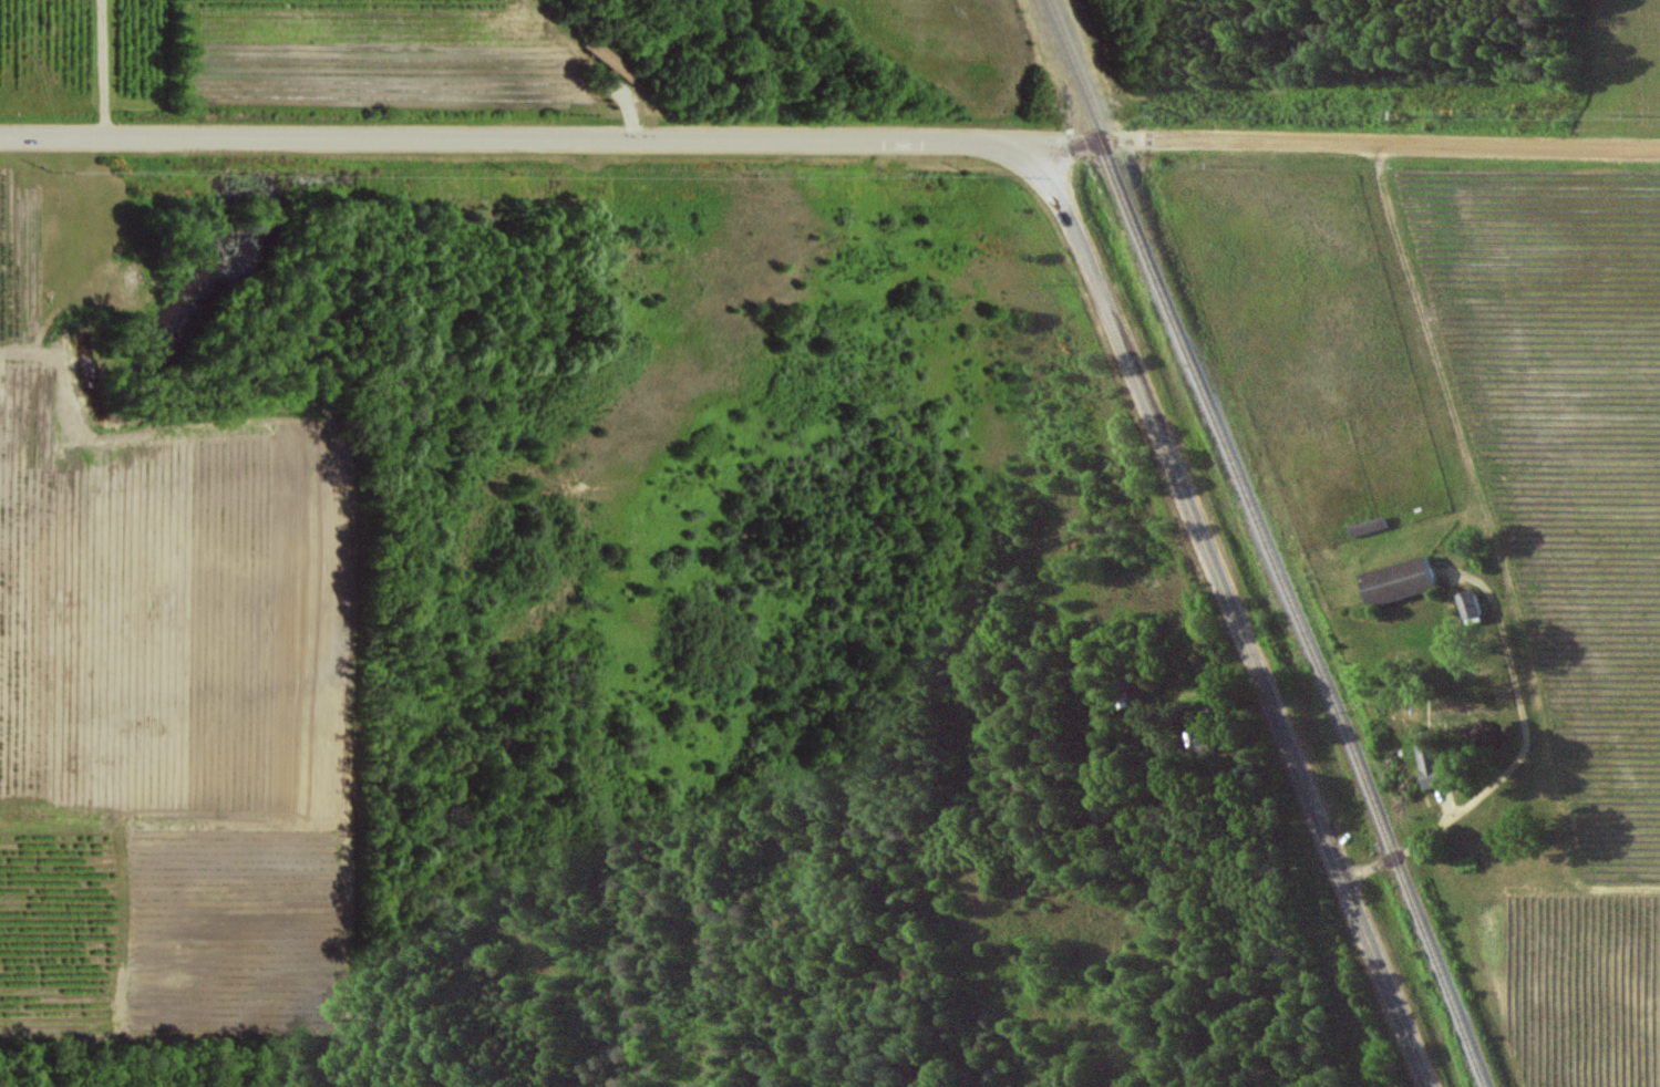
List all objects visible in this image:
road: (103, 69)
railway: (1074, 72)
road: (492, 138)
road: (1321, 146)
building: (1396, 580)
road: (1226, 596)
building: (1467, 604)
railway: (1296, 615)
road: (1517, 759)
building: (1424, 765)

